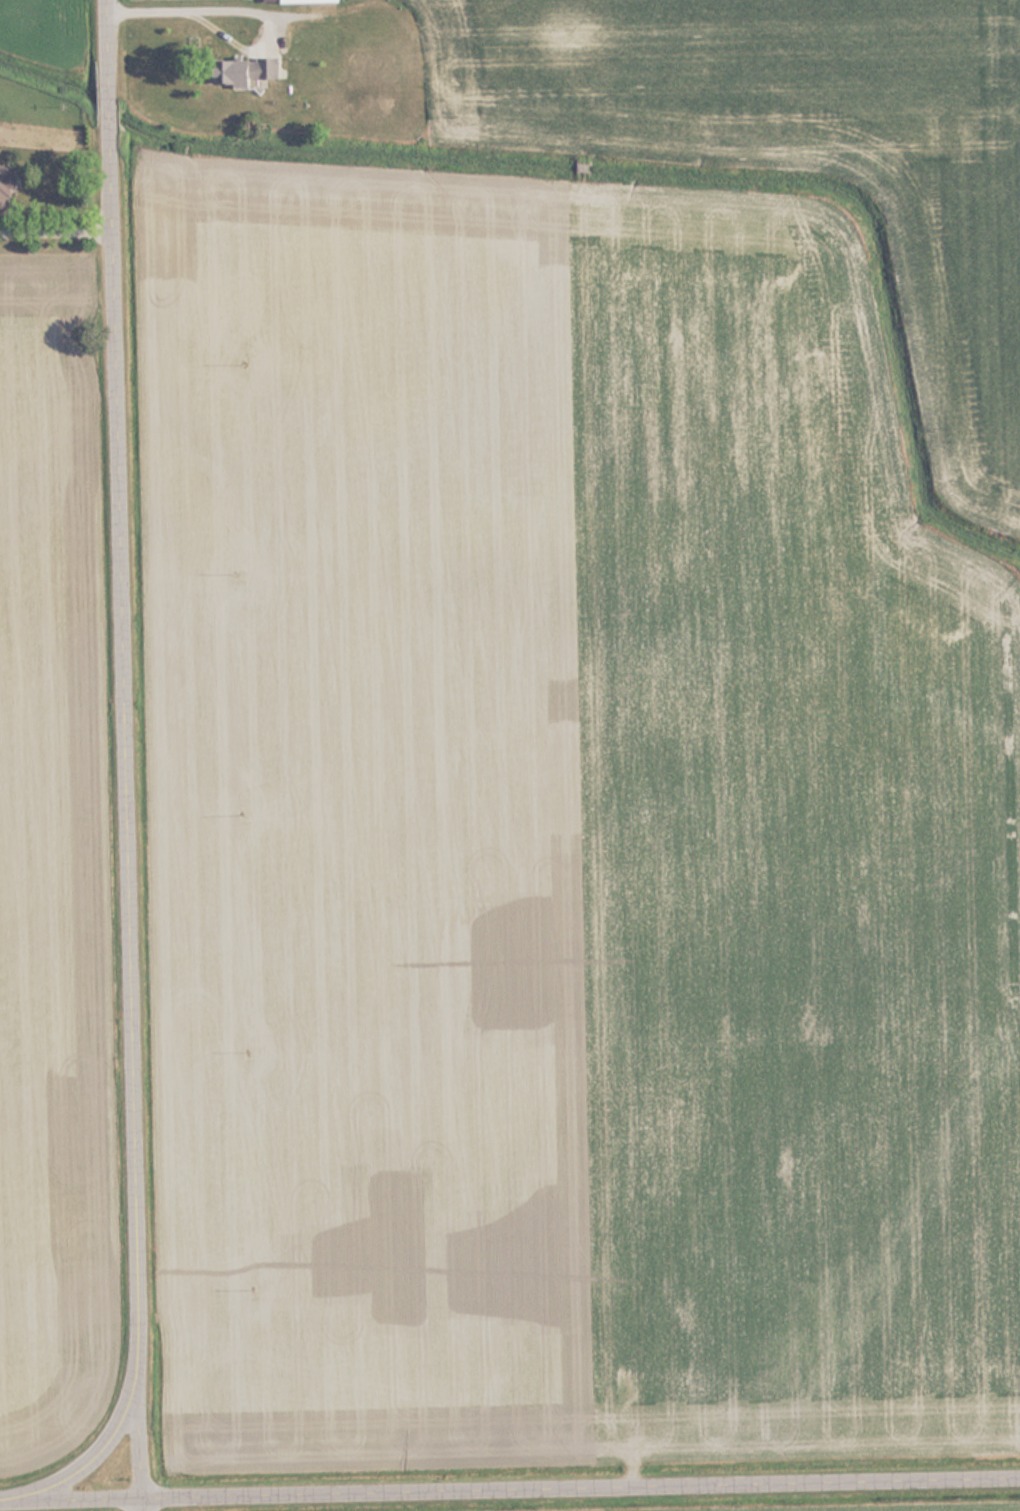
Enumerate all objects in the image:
building: (307, 1)
building: (248, 71)
building: (8, 189)
road: (134, 755)
road: (510, 1495)

